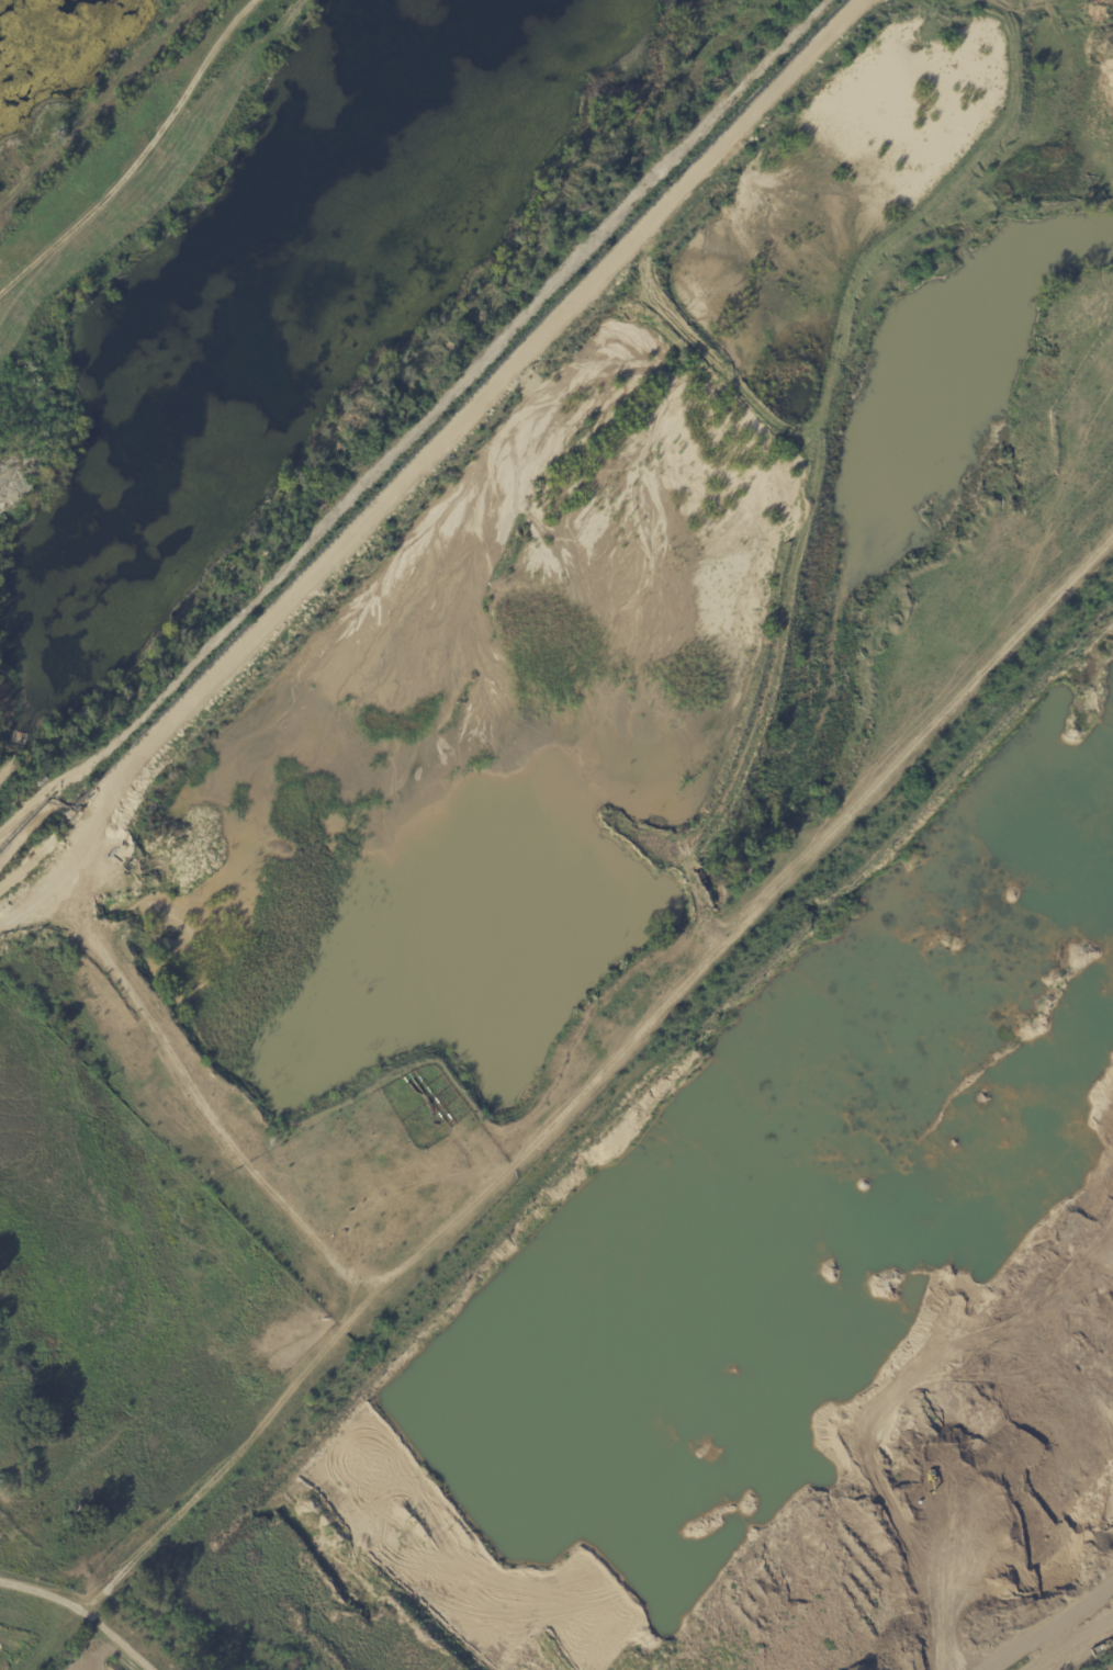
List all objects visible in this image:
road: (428, 455)
quarry: (541, 745)
building: (42, 782)
road: (598, 1079)
road: (196, 1101)
road: (58, 1606)
road: (1048, 1615)
road: (1066, 1644)
road: (95, 1654)
road: (132, 1654)

